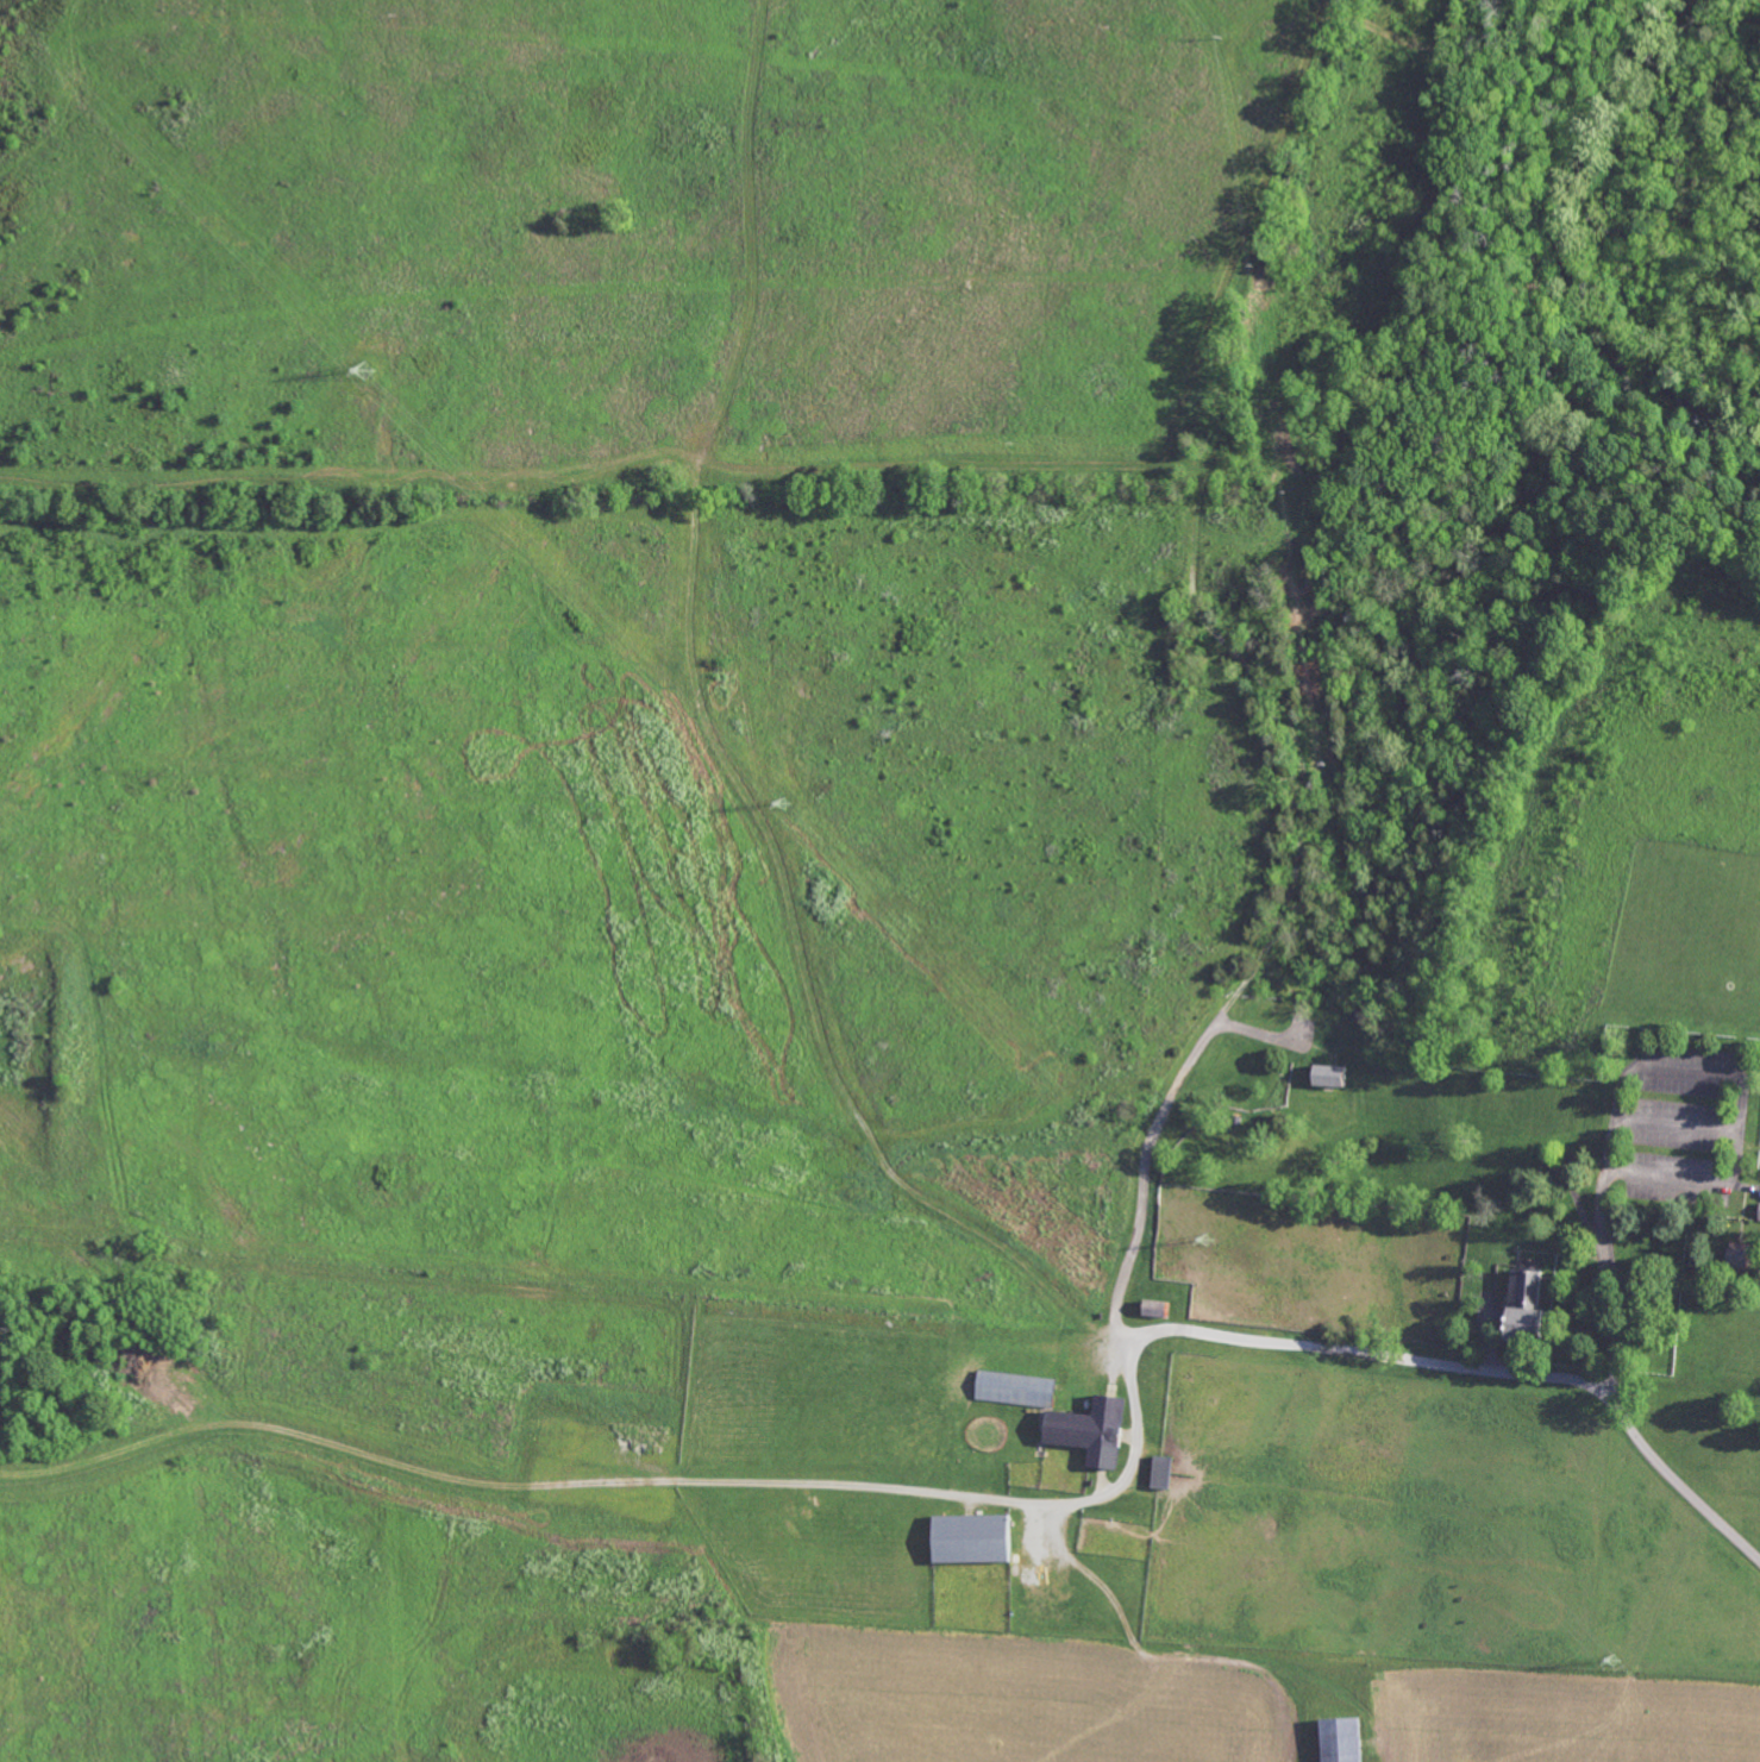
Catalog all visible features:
road: (1634, 218)
road: (1255, 220)
road: (1421, 340)
power tower: (364, 370)
road: (962, 460)
road: (350, 478)
road: (1192, 541)
road: (1495, 728)
power tower: (784, 803)
road: (1298, 809)
road: (1742, 1036)
building: (1322, 1084)
parking lot: (1689, 1123)
road: (1145, 1153)
road: (1604, 1175)
power tower: (1207, 1240)
building: (1741, 1258)
building: (1527, 1300)
building: (1157, 1308)
road: (1365, 1352)
building: (1016, 1391)
building: (1091, 1432)
parking lot: (847, 1444)
road: (1677, 1478)
road: (987, 1495)
building: (972, 1541)
power tower: (1612, 1657)
building: (1344, 1739)

